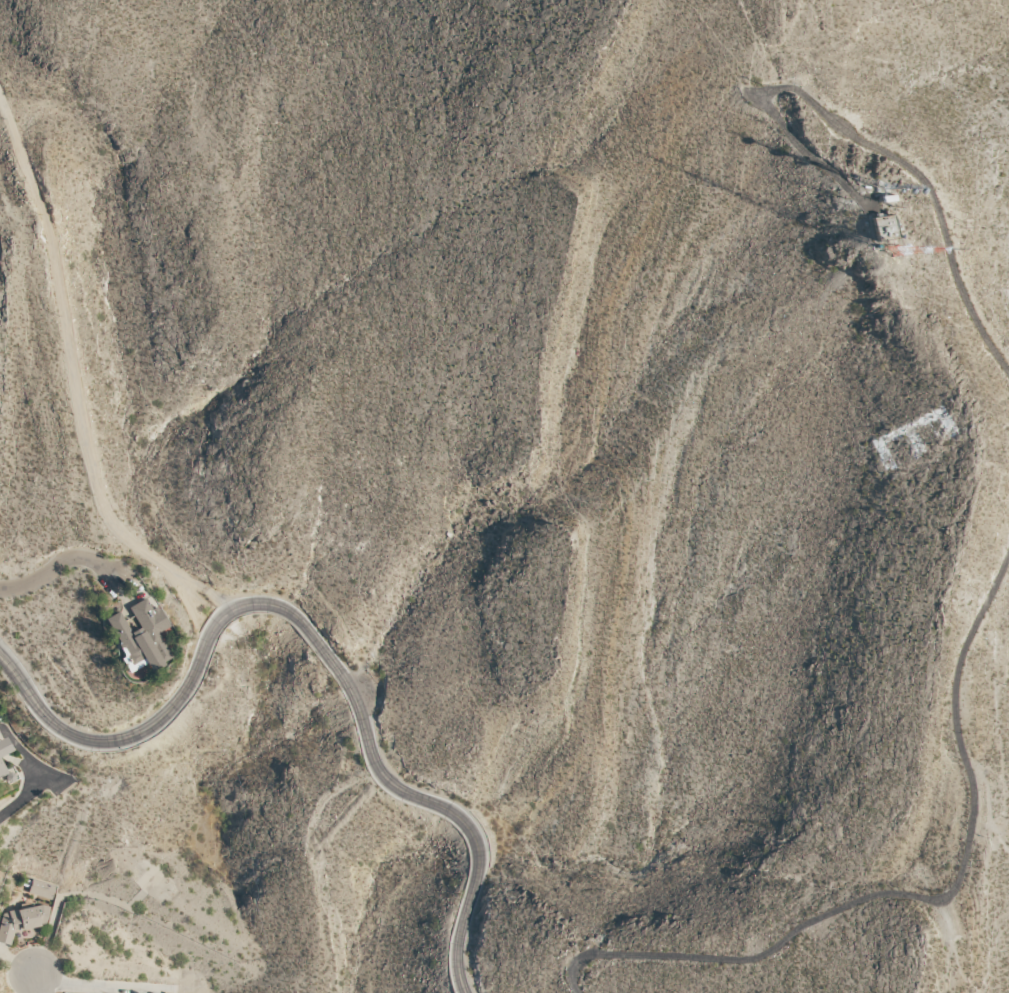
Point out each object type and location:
road: (880, 151)
road: (79, 383)
road: (64, 563)
road: (312, 635)
building: (139, 636)
building: (1, 763)
building: (42, 889)
road: (924, 900)
building: (20, 921)
road: (37, 983)

